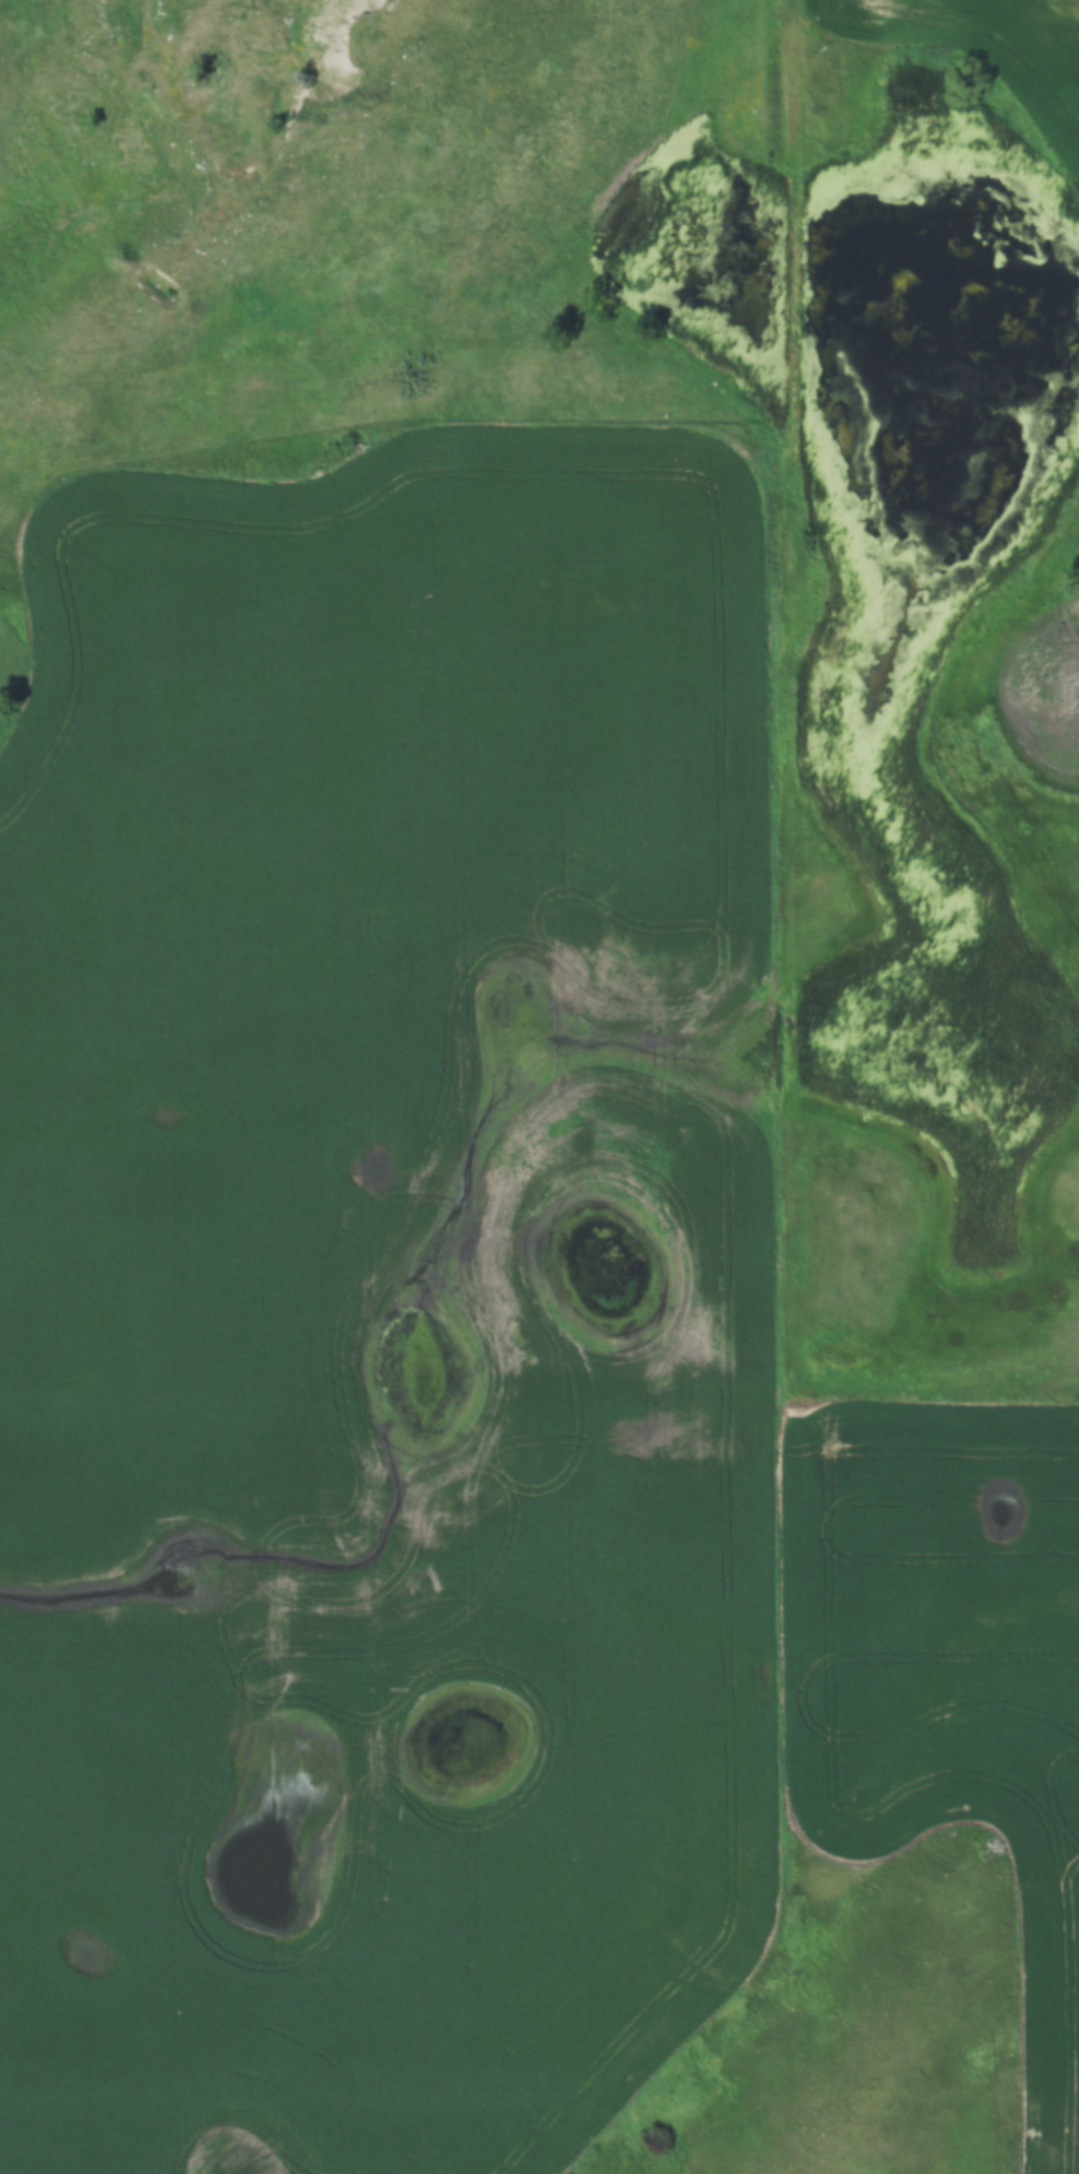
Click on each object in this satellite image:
road: (773, 1116)

